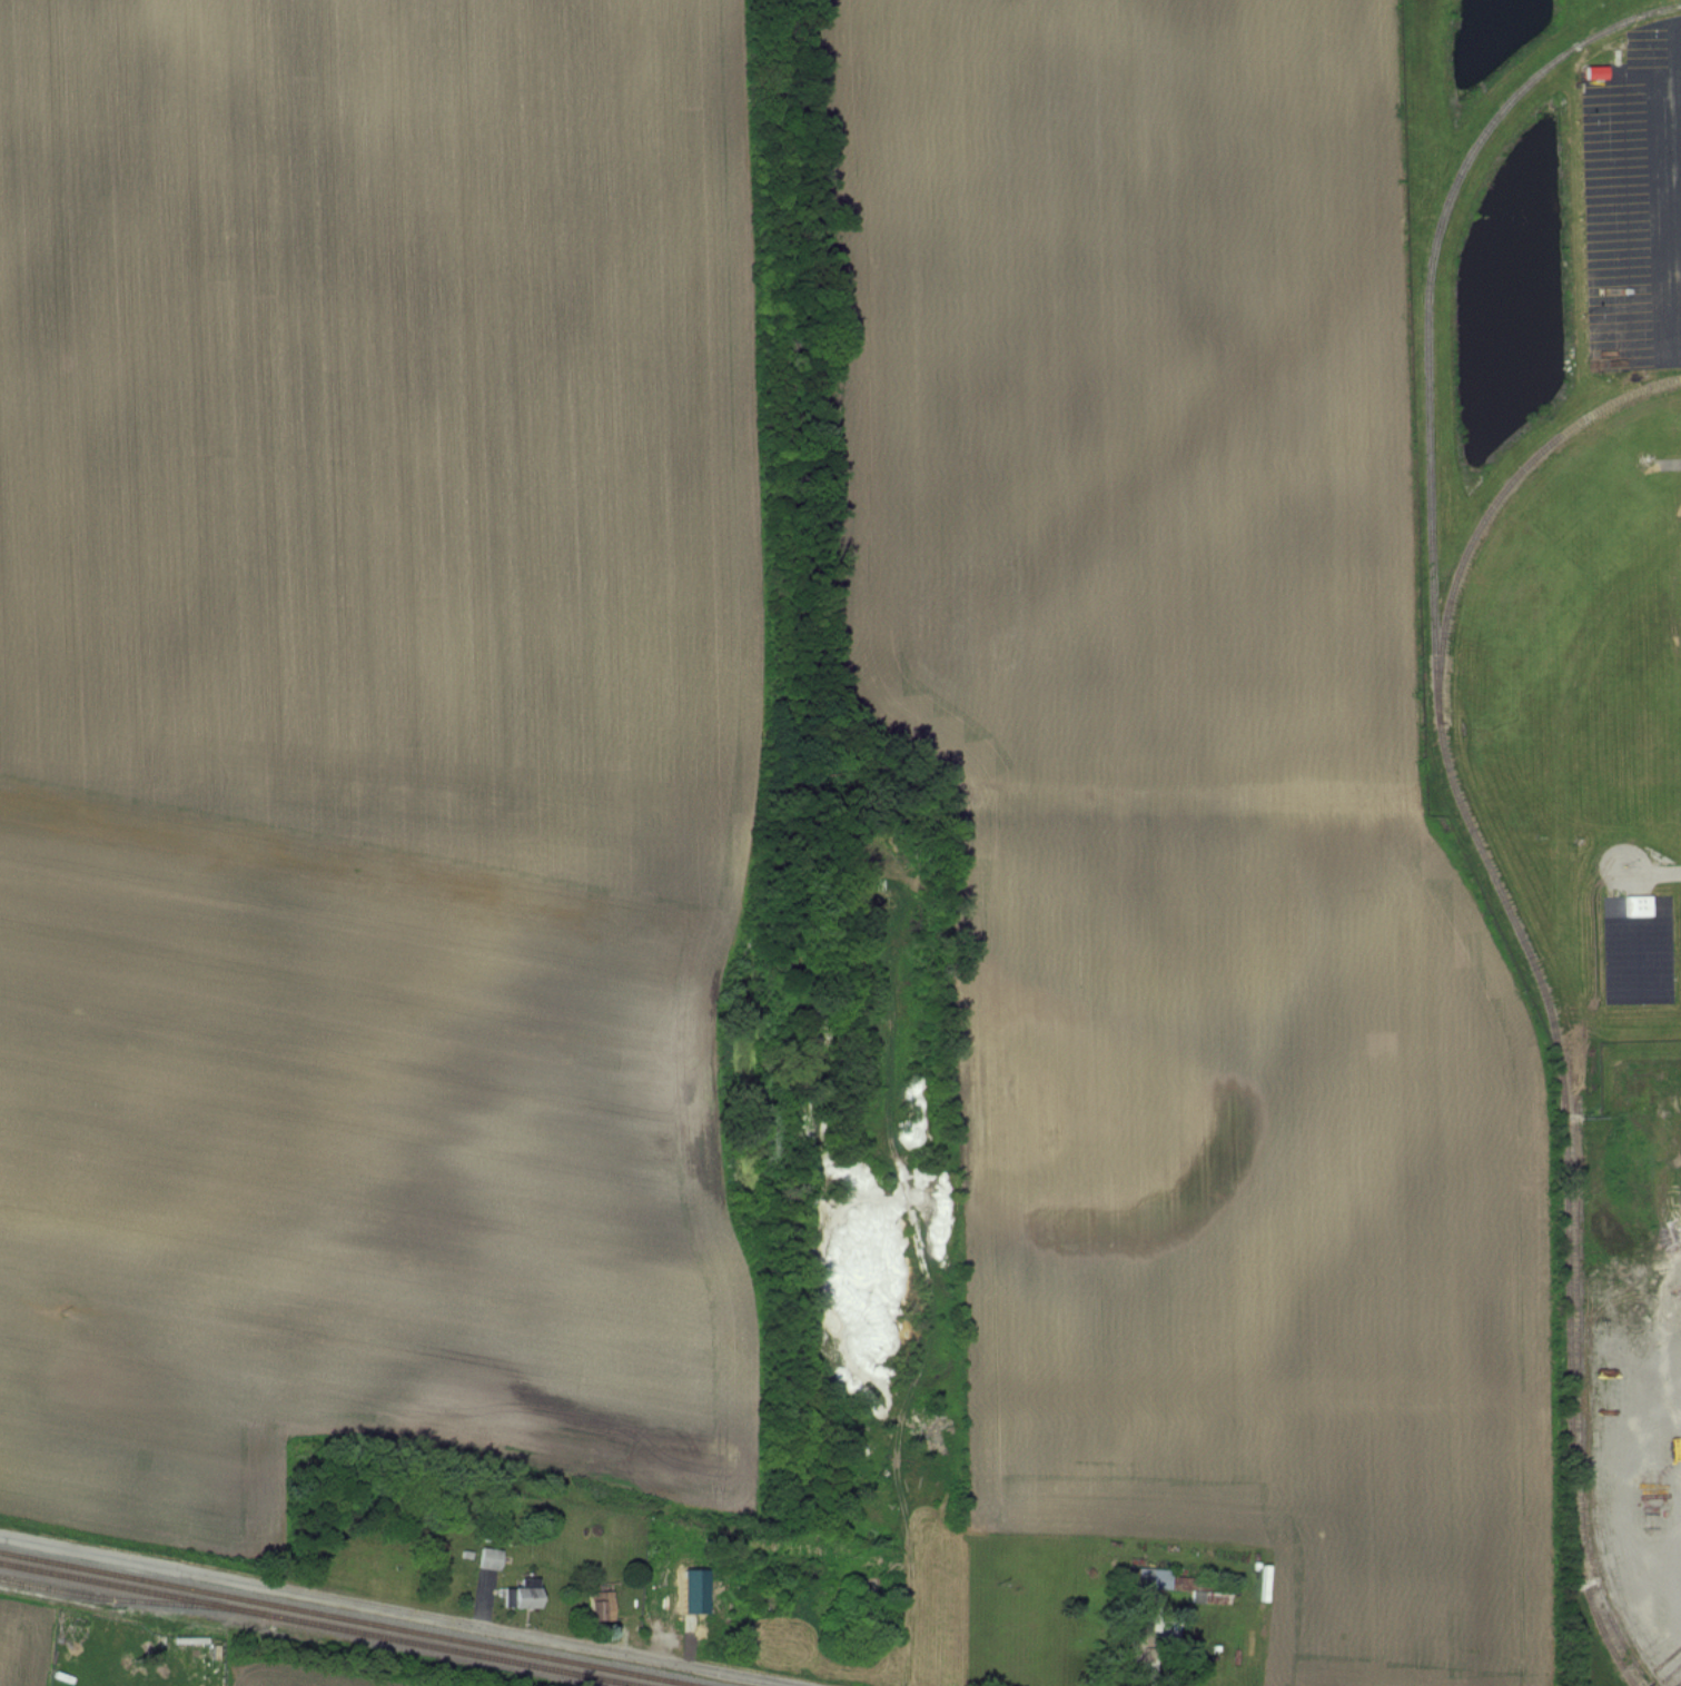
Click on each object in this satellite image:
railway: (1494, 505)
railway: (1457, 800)
building: (1639, 906)
building: (492, 1558)
building: (1186, 1585)
building: (869, 1593)
building: (525, 1594)
building: (768, 1597)
building: (602, 1606)
road: (395, 1610)
railway: (346, 1616)
railway: (317, 1624)
building: (1143, 1643)
building: (1216, 1650)

